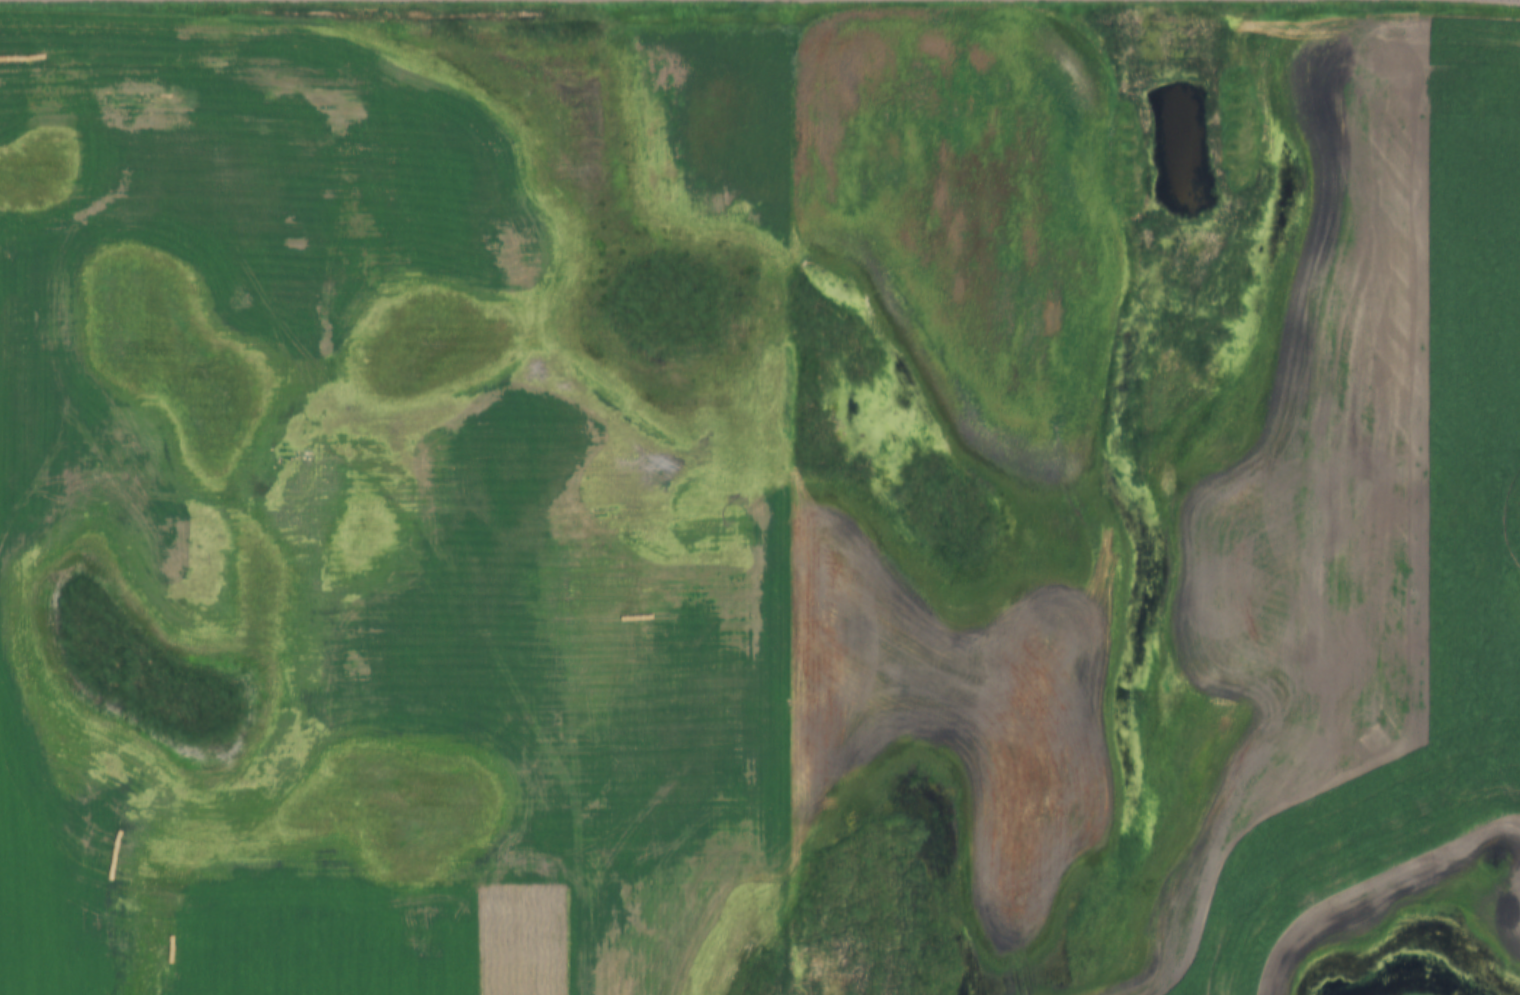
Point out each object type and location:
railway: (1519, 0)

